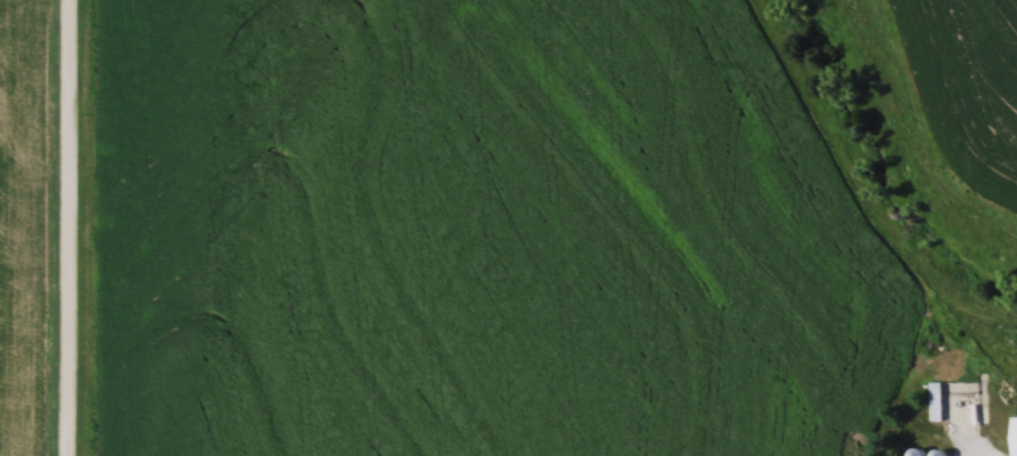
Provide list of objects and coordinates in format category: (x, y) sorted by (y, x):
road: (72, 228)
building: (938, 402)
building: (1016, 436)
building: (920, 453)
building: (941, 453)

